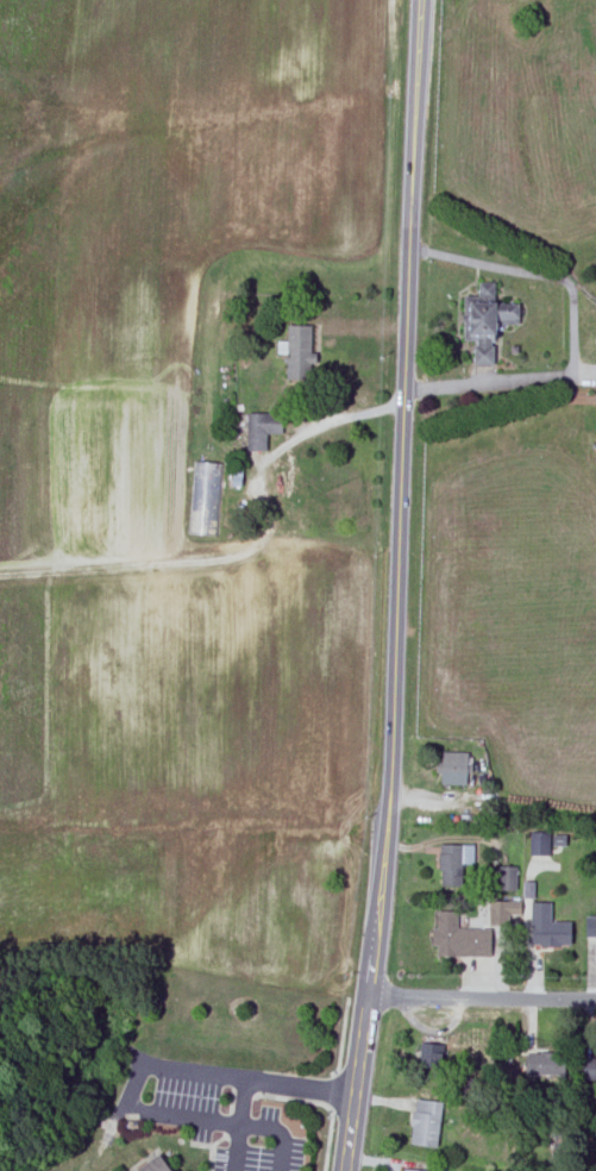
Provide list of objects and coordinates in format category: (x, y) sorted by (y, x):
building: (485, 320)
road: (572, 331)
building: (297, 352)
building: (262, 428)
road: (319, 428)
road: (395, 587)
building: (454, 768)
building: (540, 843)
building: (454, 862)
building: (507, 877)
building: (506, 912)
building: (548, 926)
building: (591, 926)
building: (459, 937)
road: (479, 998)
road: (343, 1038)
building: (432, 1051)
building: (545, 1063)
building: (589, 1067)
road: (275, 1083)
road: (332, 1091)
road: (128, 1095)
road: (324, 1104)
building: (426, 1121)
road: (257, 1128)
building: (155, 1165)
building: (412, 1170)

